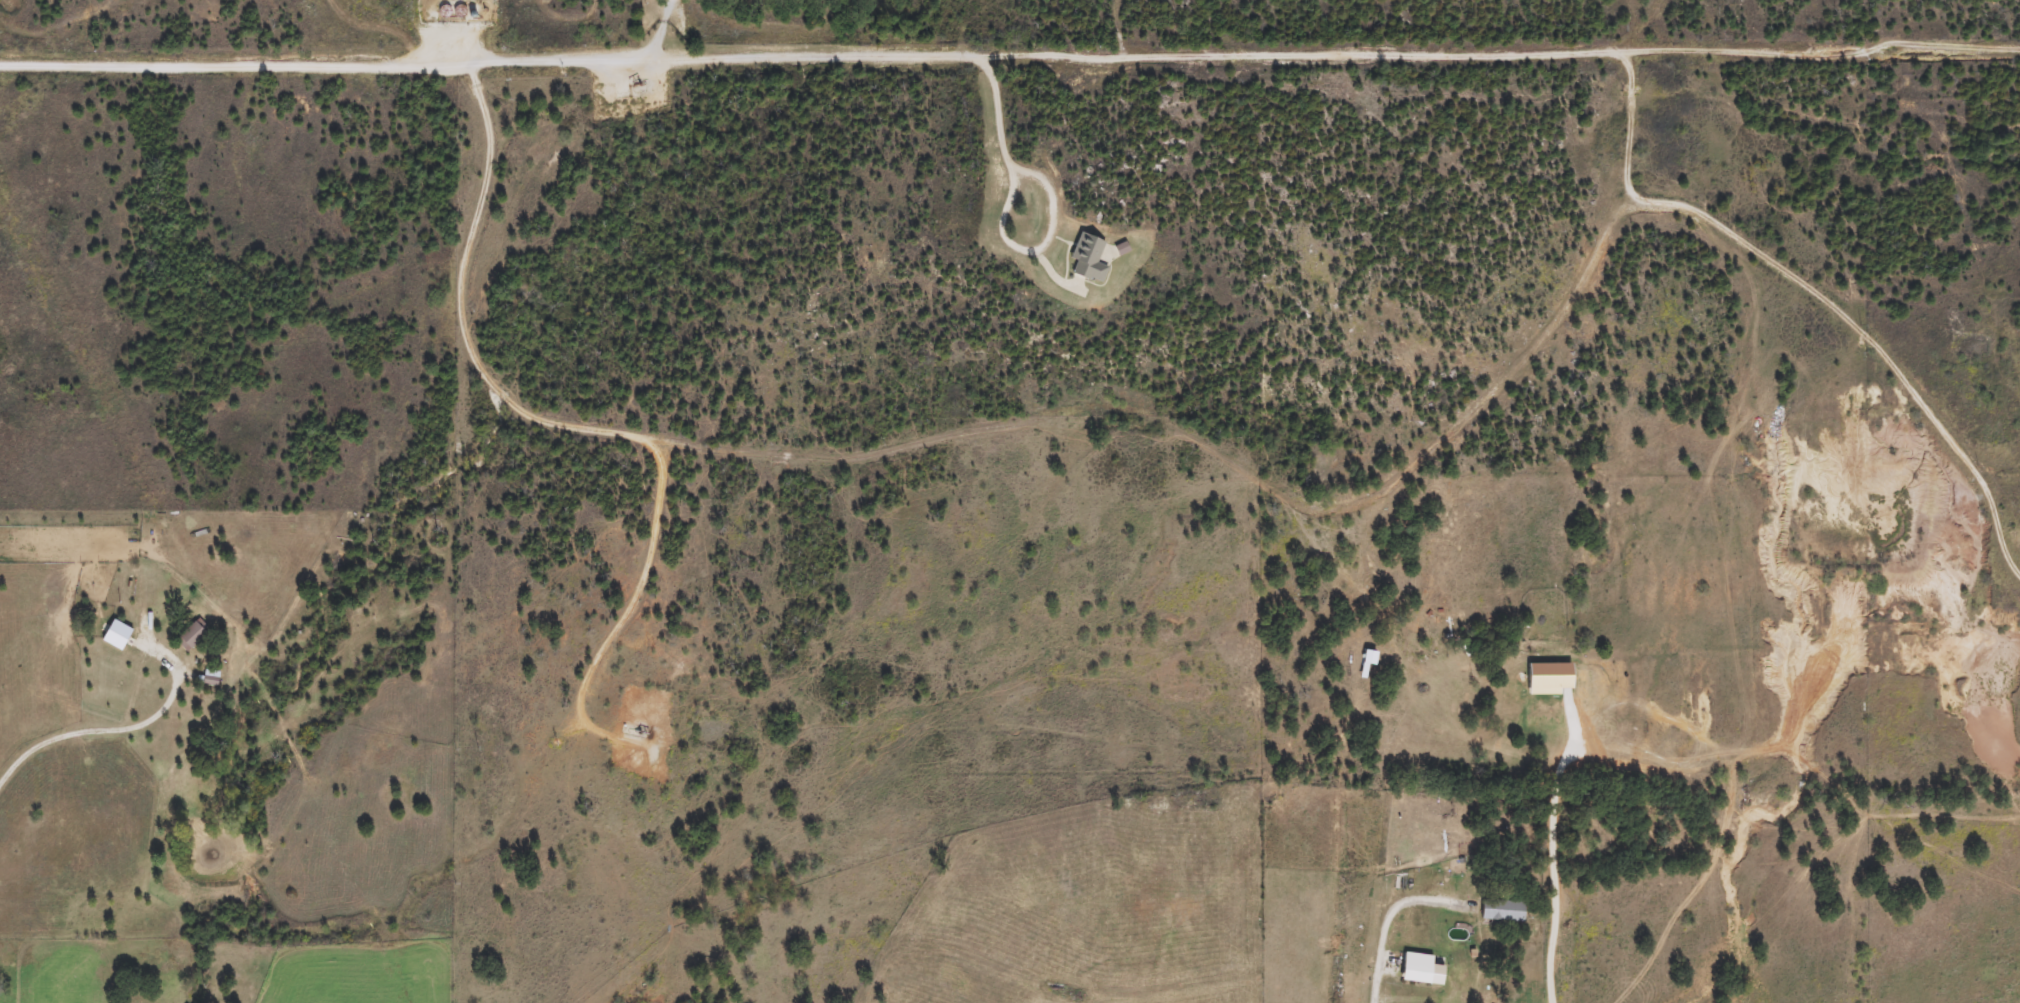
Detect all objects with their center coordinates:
building: (1090, 257)
building: (1370, 661)
building: (1551, 678)
building: (1493, 908)

